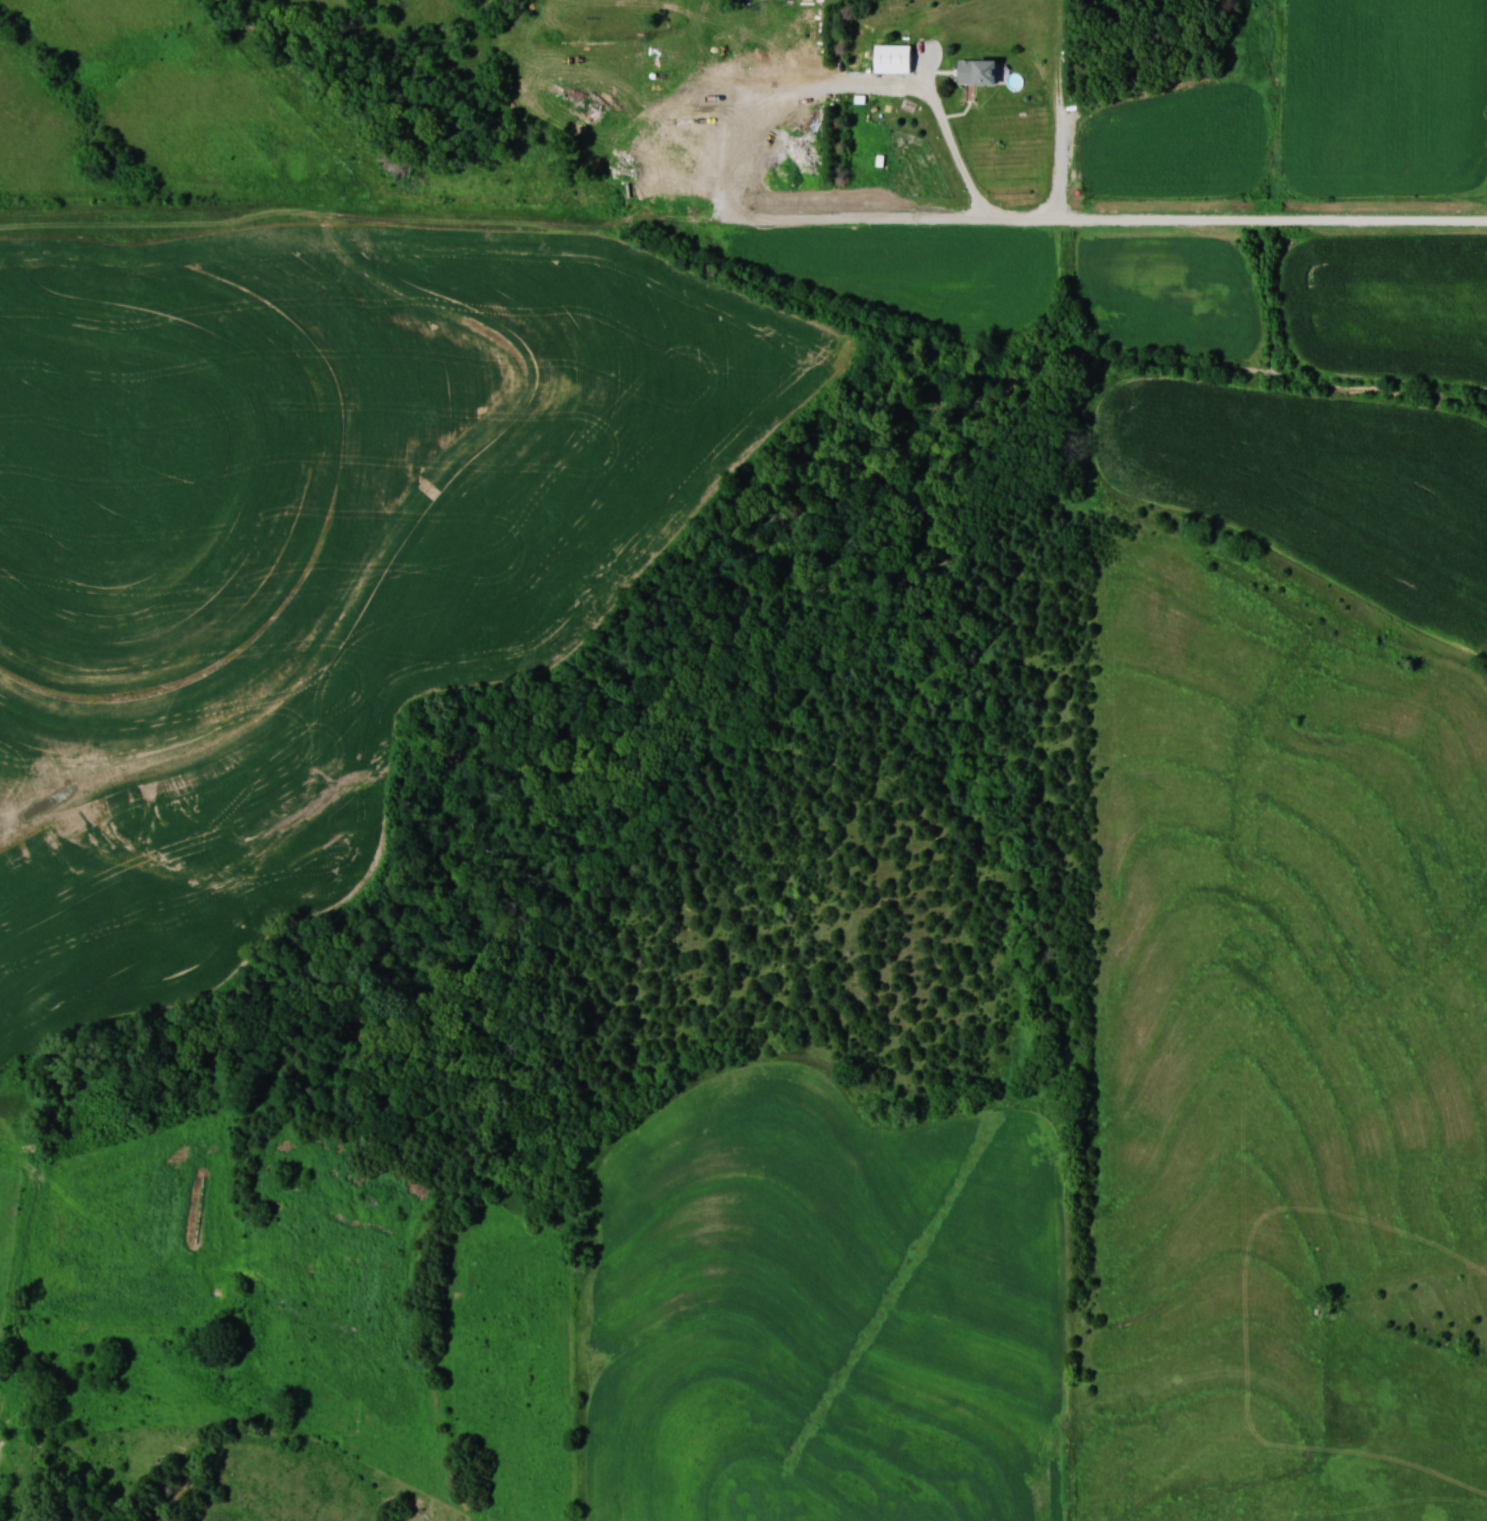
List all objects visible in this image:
building: (893, 59)
building: (978, 72)
road: (1062, 110)
road: (955, 147)
road: (1232, 221)

